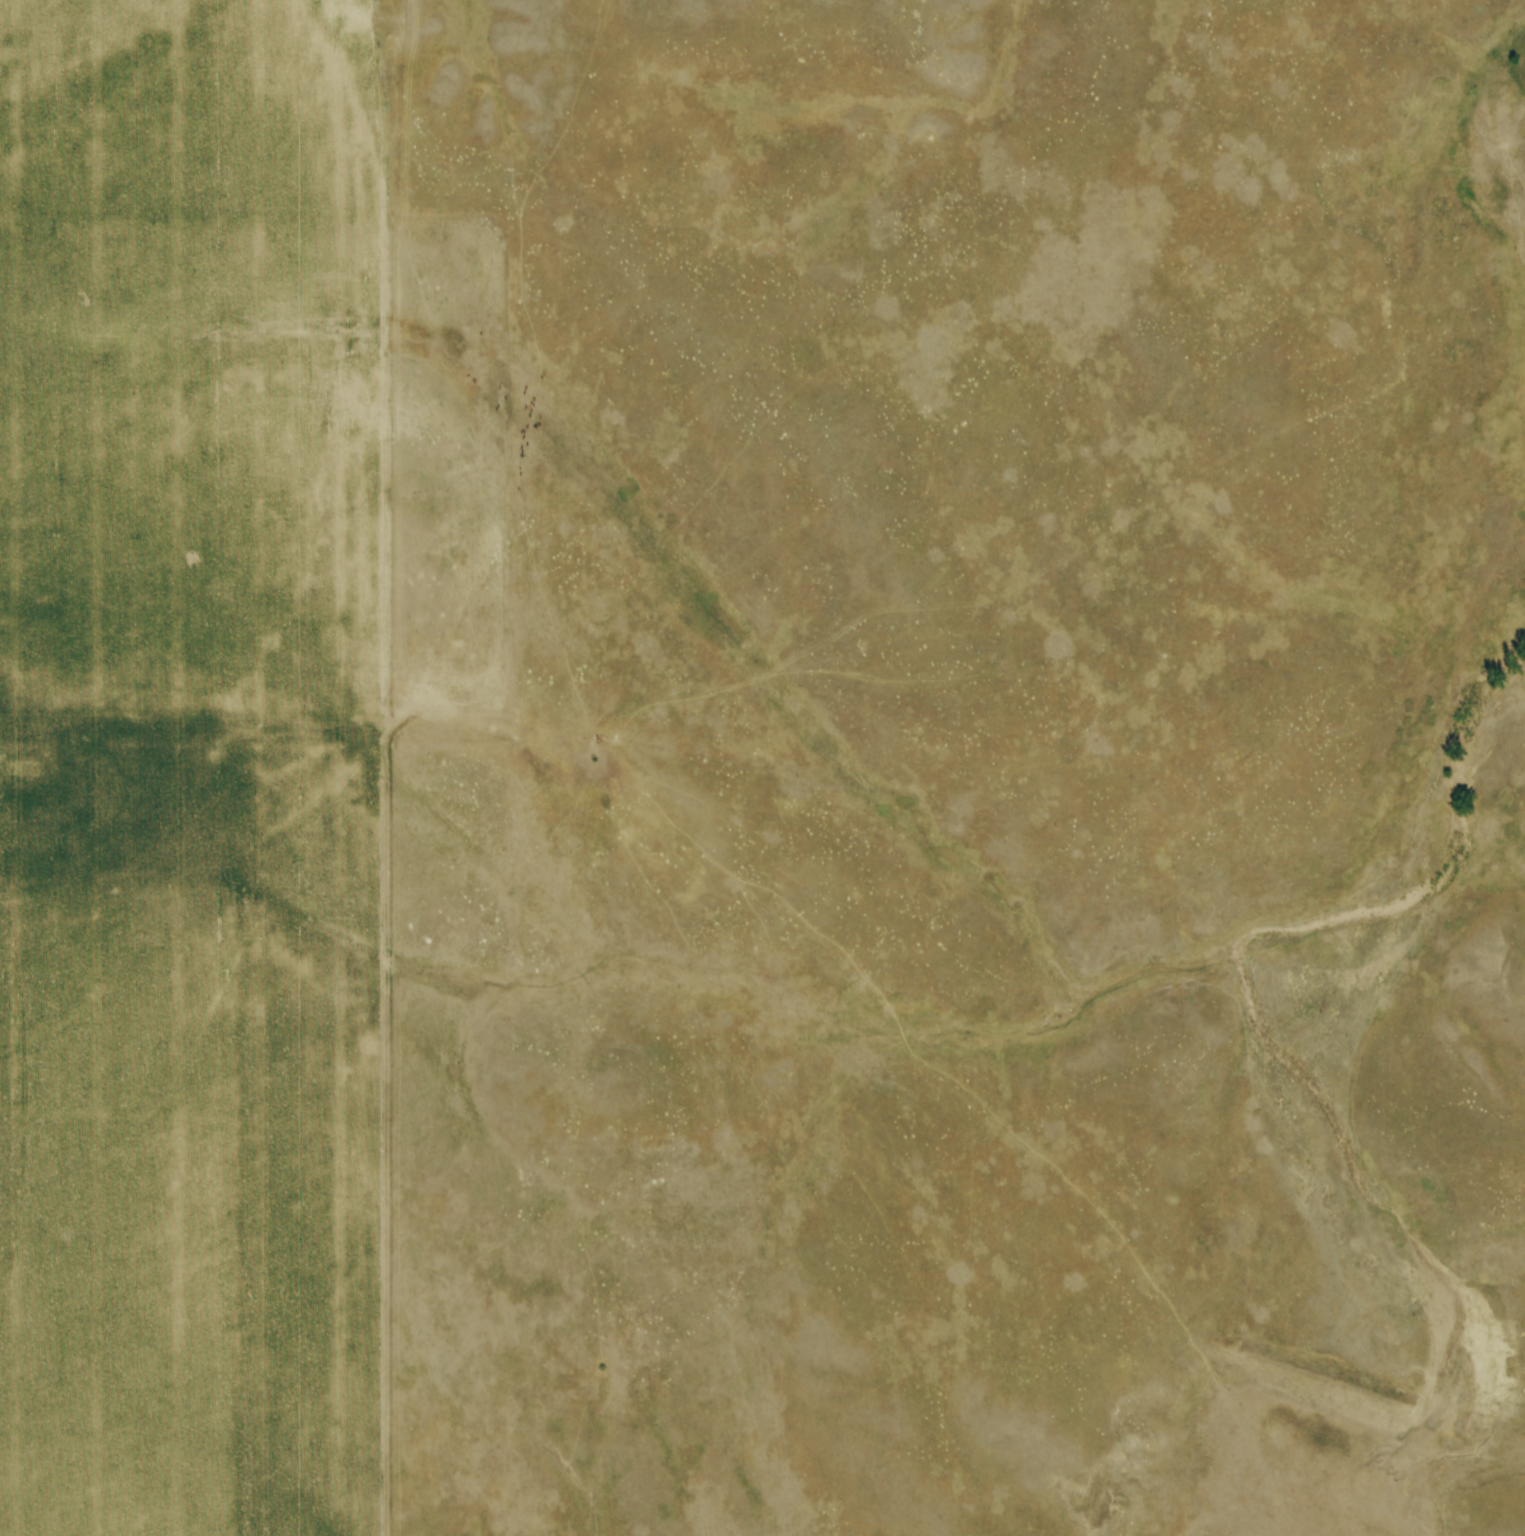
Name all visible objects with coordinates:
crop: (238, 371)
crop: (114, 1212)

